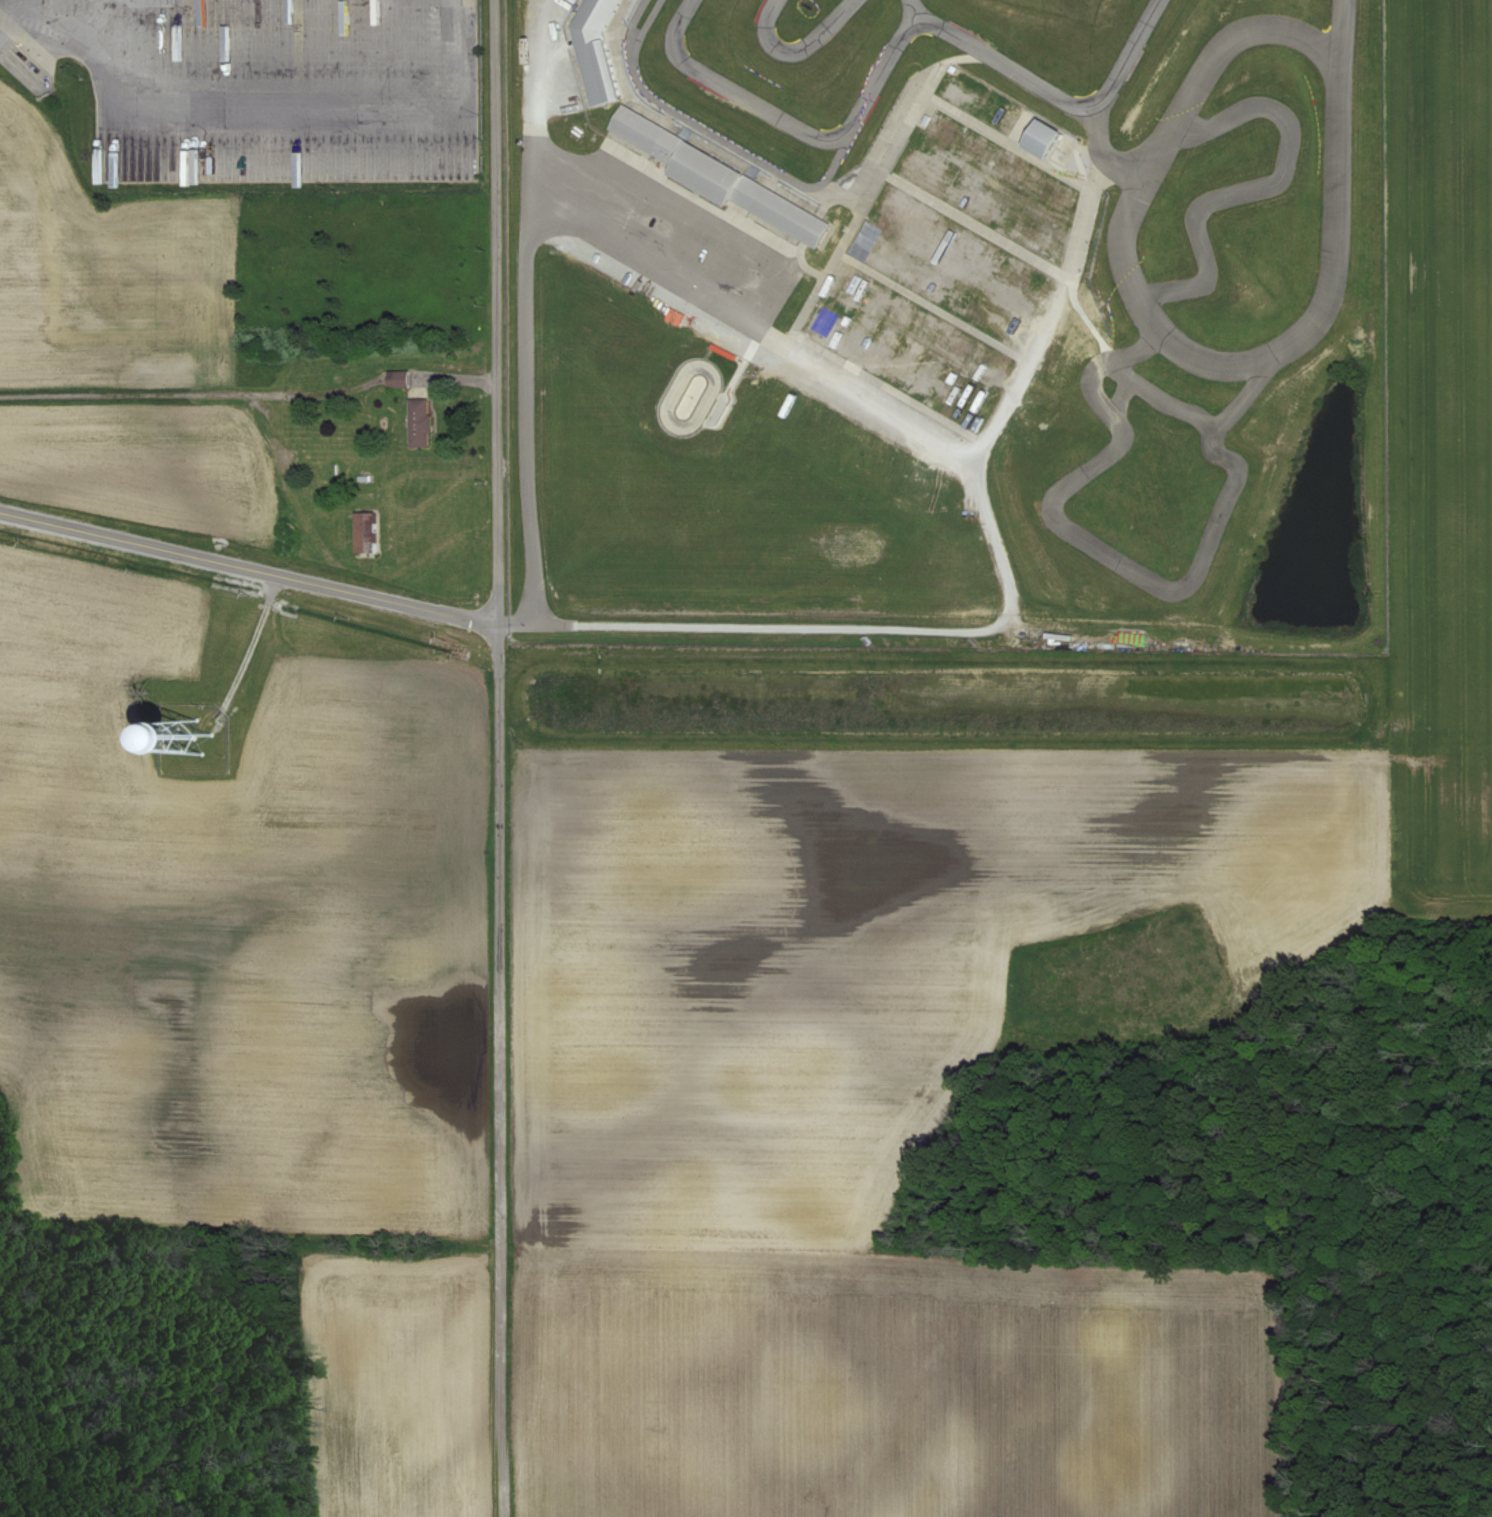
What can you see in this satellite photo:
raceway: (916, 13)
road: (123, 22)
road: (59, 37)
raceway: (1346, 40)
raceway: (897, 43)
building: (172, 44)
raceway: (801, 47)
building: (597, 53)
road: (17, 55)
road: (946, 68)
parking lot: (257, 89)
road: (308, 110)
road: (533, 112)
raceway: (715, 137)
building: (1037, 137)
road: (1009, 146)
raceway: (1103, 152)
building: (174, 167)
road: (1102, 177)
building: (723, 183)
raceway: (1260, 192)
road: (844, 195)
road: (858, 224)
road: (978, 226)
road: (681, 228)
parking lot: (853, 282)
road: (933, 309)
raceway: (1144, 322)
road: (756, 329)
road: (1041, 332)
building: (397, 380)
raceway: (1162, 397)
building: (419, 424)
road: (526, 426)
raceway: (675, 426)
building: (365, 533)
raceway: (1122, 566)
road: (250, 567)
road: (836, 630)
raceway: (948, 654)
road: (245, 656)
water tower: (201, 735)
road: (499, 758)

